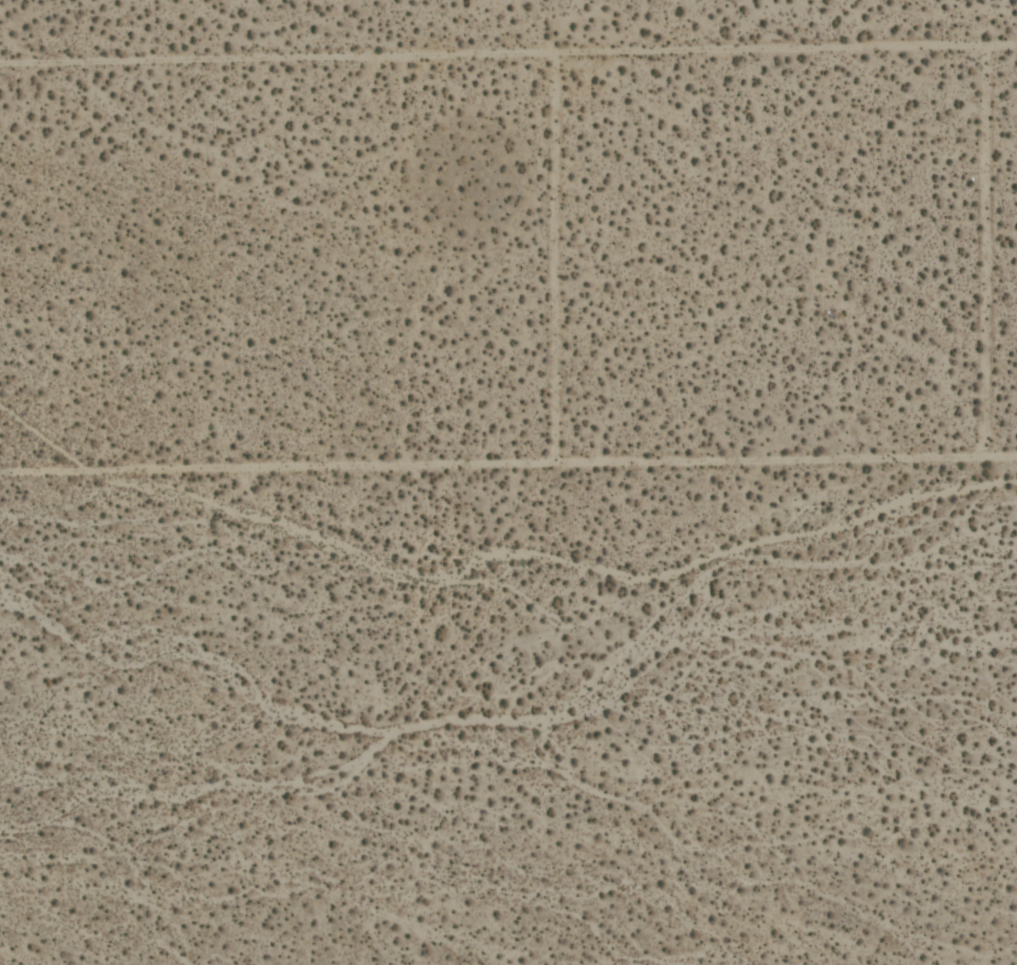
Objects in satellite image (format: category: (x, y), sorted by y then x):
crop: (508, 482)

